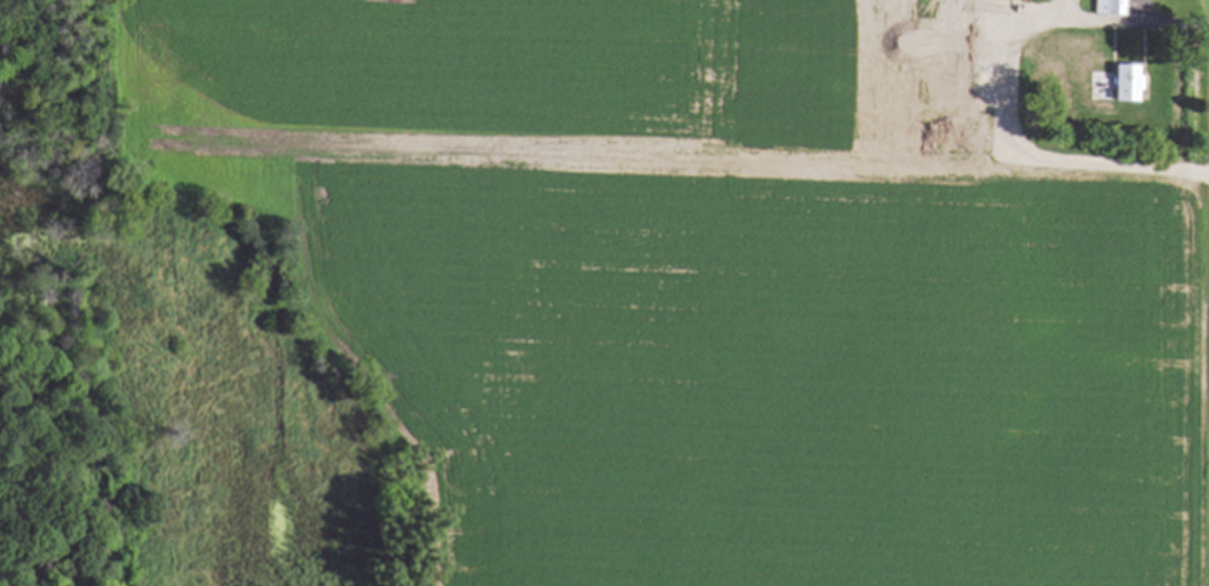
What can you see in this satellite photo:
building: (1109, 6)
building: (1123, 82)

